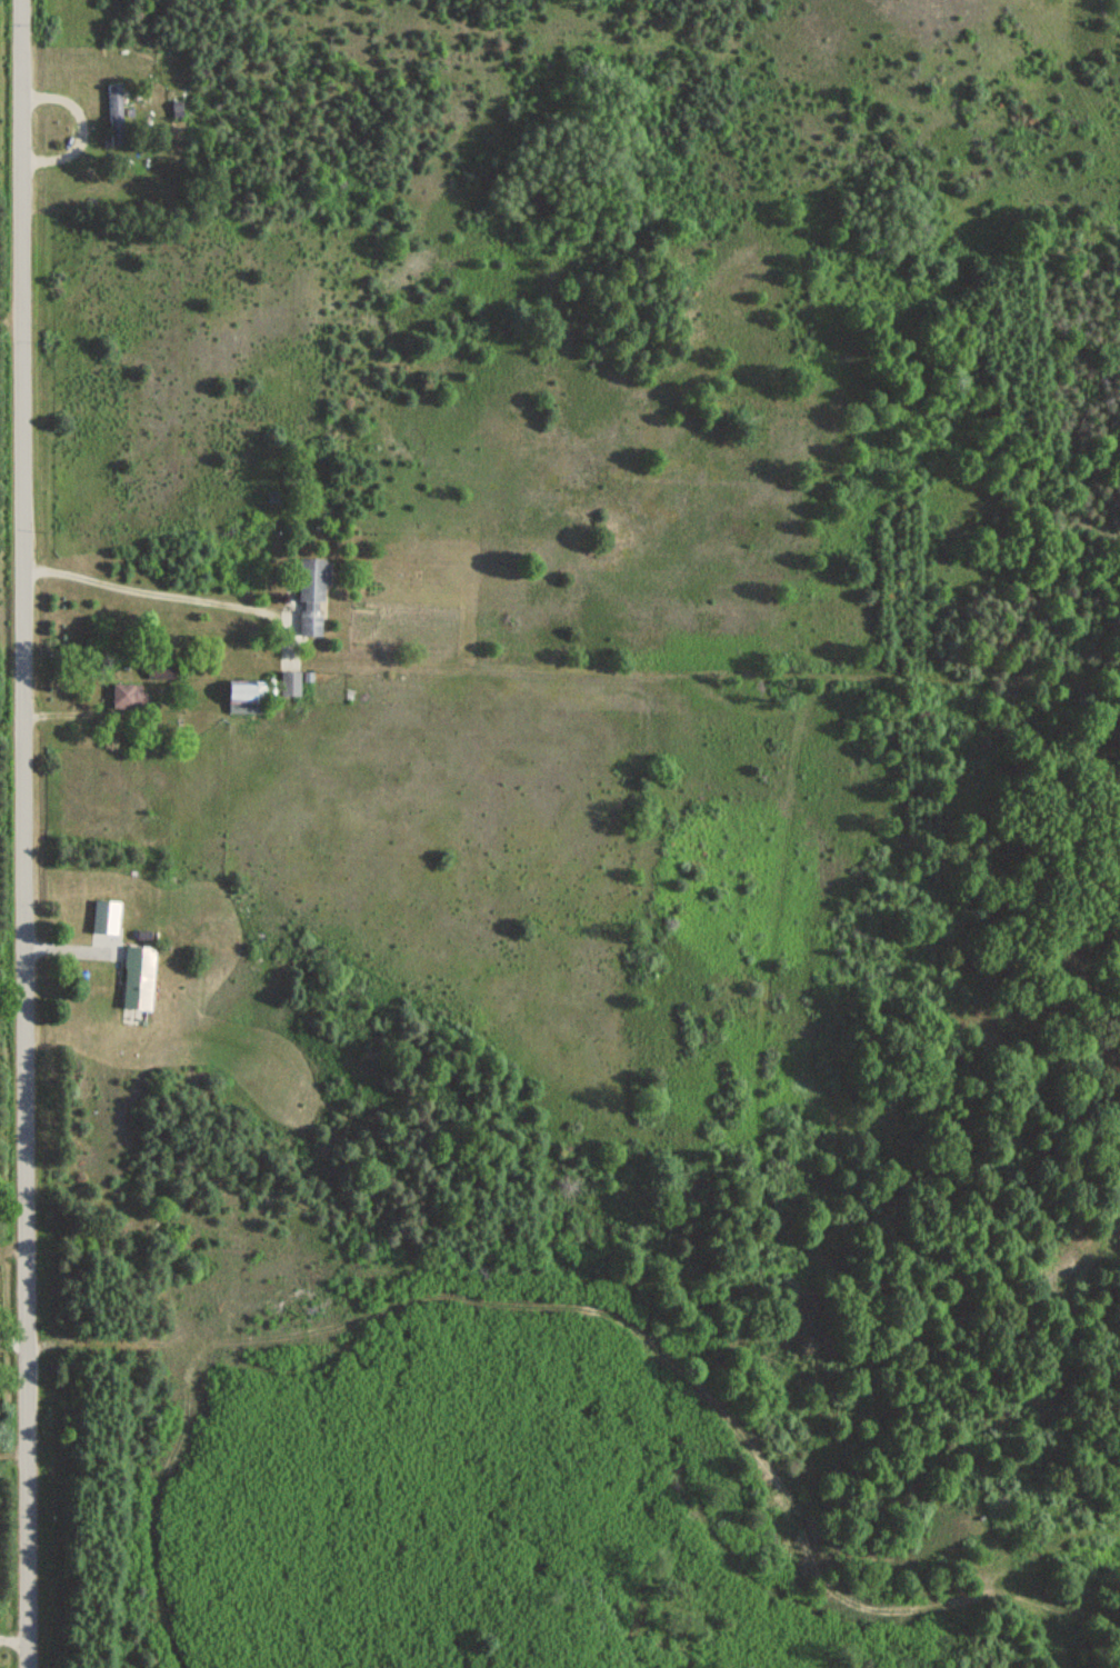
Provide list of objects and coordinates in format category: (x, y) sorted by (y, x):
building: (113, 108)
building: (174, 110)
building: (308, 596)
building: (286, 682)
building: (241, 691)
building: (124, 697)
road: (23, 833)
building: (134, 977)
road: (12, 1512)

